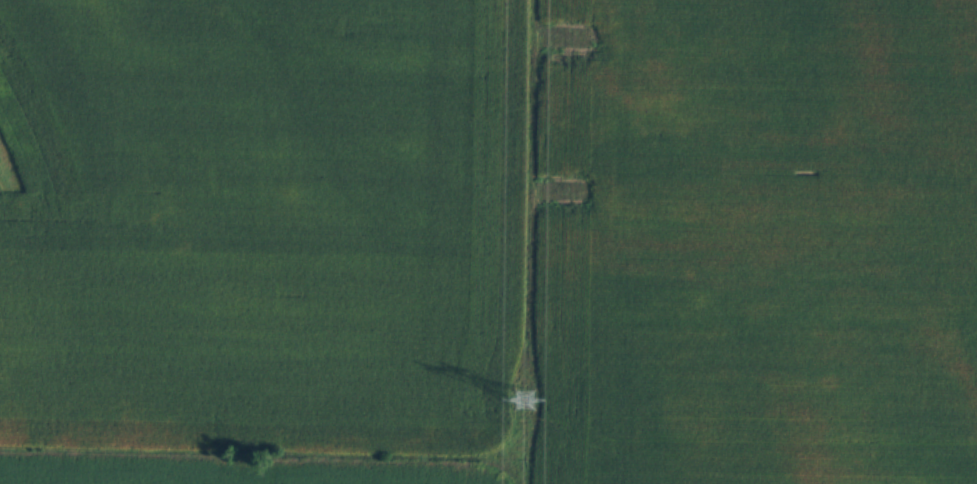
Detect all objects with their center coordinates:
power tower: (521, 407)

